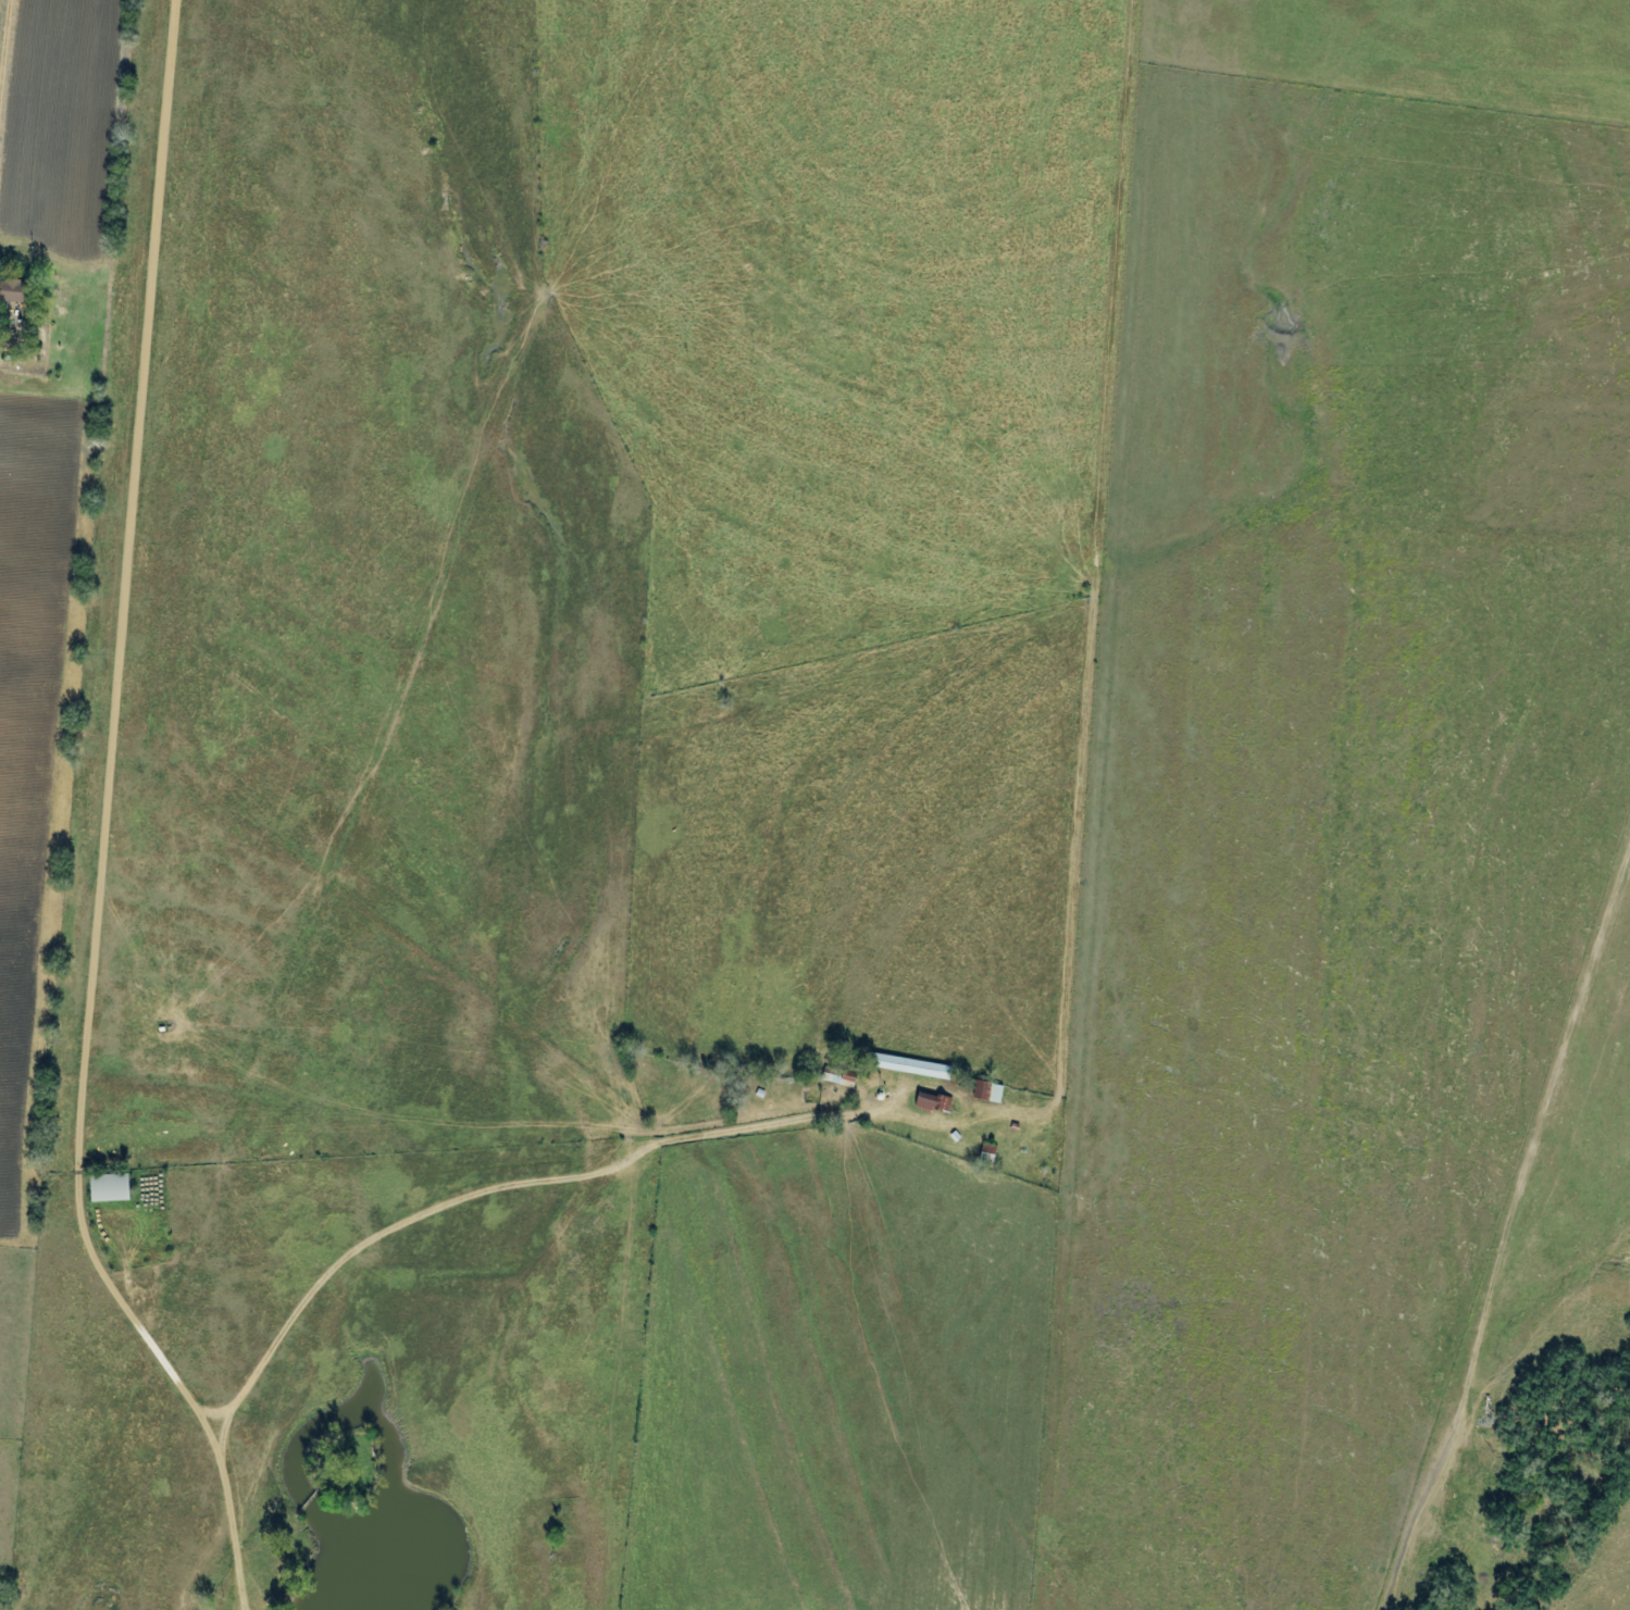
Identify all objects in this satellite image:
road: (3, 29)
building: (12, 290)

